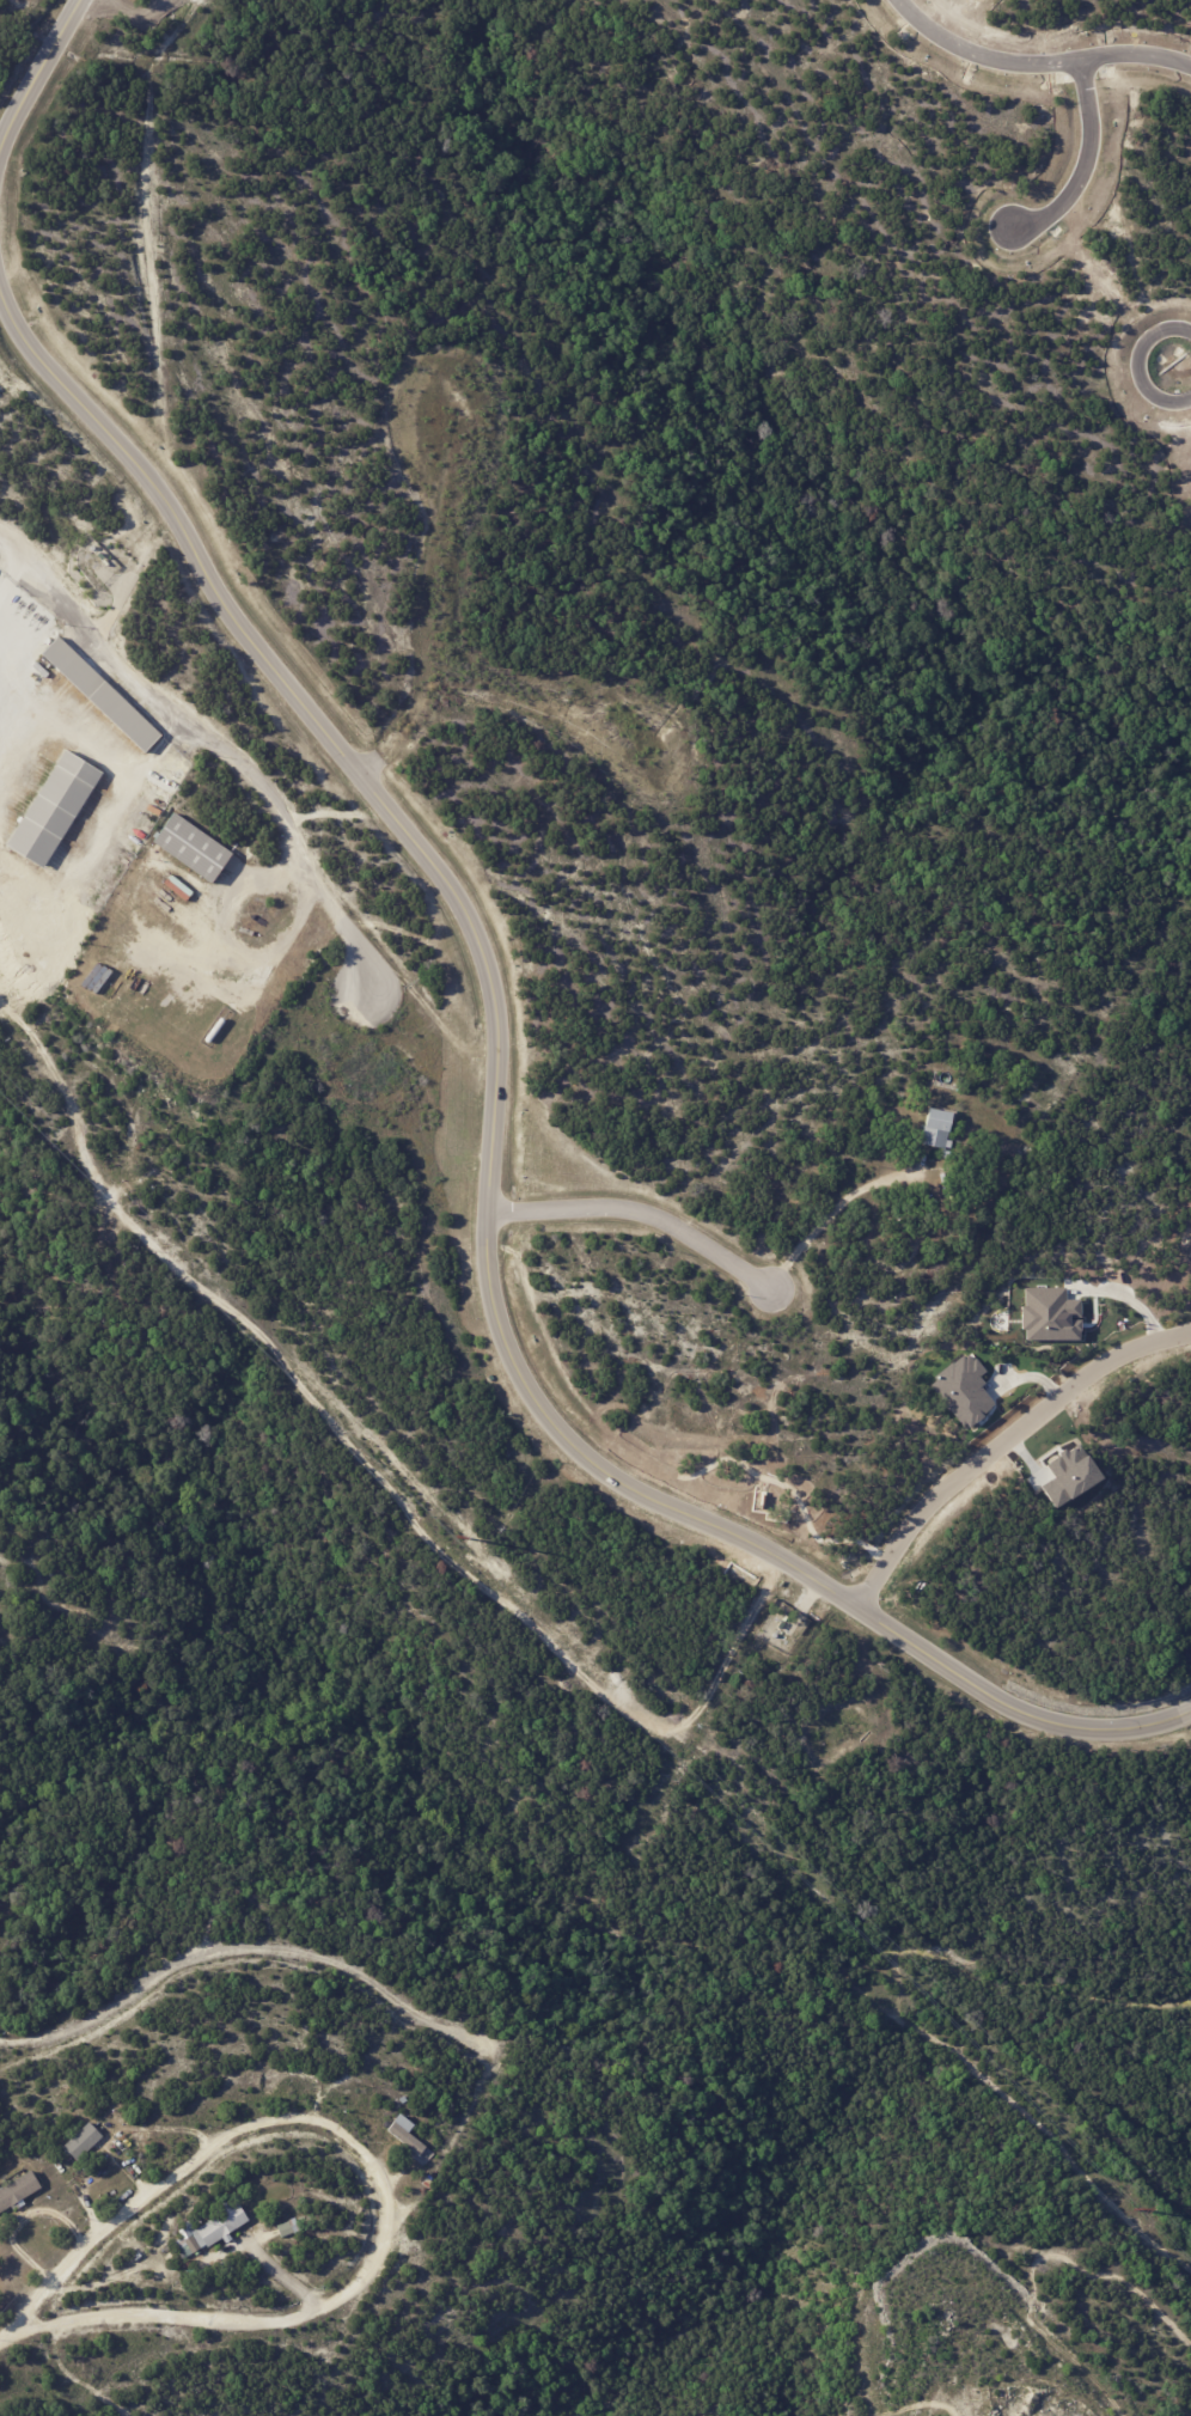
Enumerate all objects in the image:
road: (1040, 56)
road: (37, 78)
road: (1088, 159)
road: (1141, 360)
road: (324, 444)
building: (102, 694)
road: (219, 739)
road: (564, 763)
building: (56, 807)
building: (193, 847)
building: (100, 959)
building: (94, 977)
building: (935, 1130)
road: (490, 1141)
road: (640, 1212)
road: (836, 1215)
road: (1000, 1444)
power tower: (457, 1536)
building: (0, 1899)
road: (244, 1953)
building: (403, 2135)
building: (81, 2141)
building: (17, 2191)
road: (383, 2200)
power tower: (1137, 2208)
building: (286, 2228)
building: (207, 2232)
building: (135, 2257)
road: (26, 2332)

